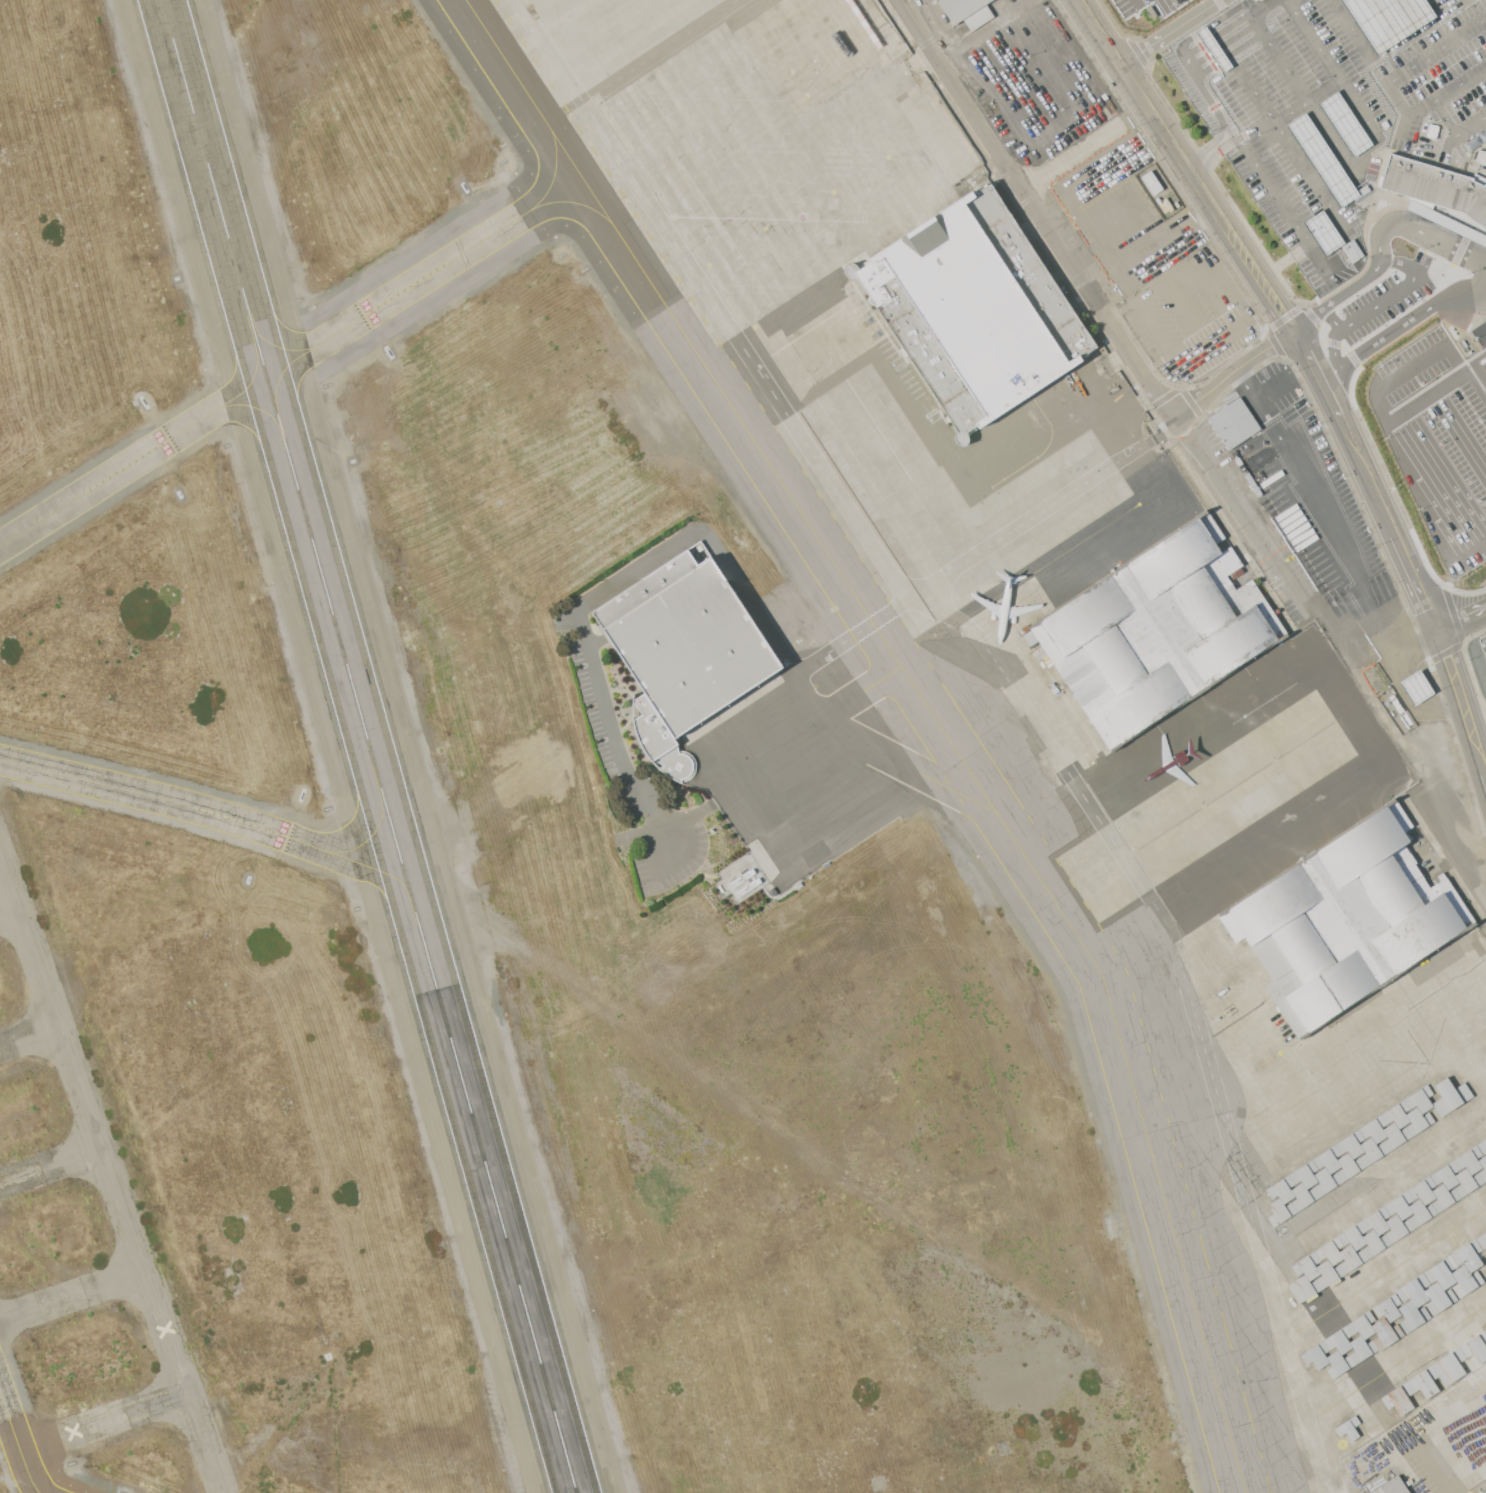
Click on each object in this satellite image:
road: (1282, 1)
building: (1266, 2)
road: (1277, 2)
road: (1338, 7)
parking lot: (1429, 9)
parking lot: (1144, 10)
building: (967, 12)
parking lot: (1388, 19)
road: (1233, 22)
road: (1388, 22)
road: (1173, 33)
road: (969, 34)
road: (1306, 37)
road: (1273, 50)
parking lot: (1301, 79)
road: (1383, 80)
road: (1231, 81)
parking lot: (1448, 82)
road: (1415, 88)
road: (1210, 96)
road: (1304, 113)
road: (1063, 128)
road: (1206, 145)
road: (1085, 147)
road: (1214, 155)
road: (1279, 156)
road: (1471, 156)
road: (1348, 163)
airport taxiway: (553, 170)
road: (1377, 175)
road: (1356, 179)
building: (1436, 187)
building: (1360, 194)
parking lot: (1296, 197)
airport taxiway: (574, 203)
road: (1036, 209)
road: (1328, 209)
road: (1293, 225)
road: (1420, 231)
road: (1482, 240)
road: (1339, 246)
building: (1314, 253)
parking lot: (1145, 261)
road: (1284, 261)
road: (1204, 266)
road: (1459, 279)
road: (1341, 295)
road: (1136, 302)
parking lot: (1394, 307)
road: (1371, 309)
airport hangar: (974, 311)
building: (974, 311)
road: (1399, 328)
parking lot: (1481, 336)
road: (1206, 344)
airport taxiway: (284, 348)
parking lot: (1216, 355)
road: (1316, 365)
road: (1234, 372)
airport taxiway: (253, 374)
airport taxiway: (266, 379)
road: (1390, 379)
airport taxiway: (278, 380)
road: (1438, 391)
road: (1255, 400)
airport taxiway: (261, 410)
building: (1233, 423)
road: (1179, 424)
parking lot: (1440, 451)
parking lot: (1319, 509)
road: (1317, 510)
road: (1425, 514)
road: (626, 576)
road: (1463, 623)
building: (1153, 636)
building: (684, 651)
road: (1329, 658)
building: (1416, 686)
airport taxiway: (932, 712)
airport apron: (1074, 724)
airport runway: (371, 746)
airport: (743, 746)
airport taxiway: (227, 817)
airport taxiway: (373, 838)
helipad: (1072, 904)
building: (1344, 923)
building: (1450, 1096)
building: (1420, 1099)
building: (1397, 1114)
building: (1417, 1121)
building: (1374, 1129)
building: (1395, 1136)
building: (1351, 1144)
building: (1482, 1147)
building: (1372, 1151)
building: (1328, 1159)
building: (1469, 1160)
building: (1483, 1164)
building: (1349, 1166)
building: (1305, 1174)
building: (1446, 1175)
building: (1326, 1181)
building: (1467, 1182)
building: (1281, 1189)
building: (1422, 1190)
building: (1303, 1196)
building: (1444, 1197)
building: (1399, 1205)
building: (1280, 1211)
building: (1420, 1213)
building: (1376, 1221)
building: (1397, 1228)
building: (1353, 1236)
building: (1482, 1240)
building: (1374, 1243)
airport hangar: (1379, 1250)
building: (1330, 1251)
building: (1467, 1255)
building: (1351, 1258)
building: (1307, 1266)
building: (1328, 1273)
building: (1441, 1273)
building: (1465, 1281)
building: (1303, 1288)
building: (1414, 1290)
building: (1439, 1298)
building: (1388, 1308)
building: (1412, 1316)
building: (1362, 1325)
building: (1485, 1330)
building: (1385, 1333)
building: (1339, 1340)
building: (1475, 1347)
building: (1361, 1349)
building: (1316, 1355)
building: (1338, 1364)
building: (1447, 1367)
building: (1422, 1384)
building: (1398, 1399)
building: (1348, 1429)
airport taxiway: (18, 1439)
building: (1391, 1487)
helipad: (1040, 1490)

